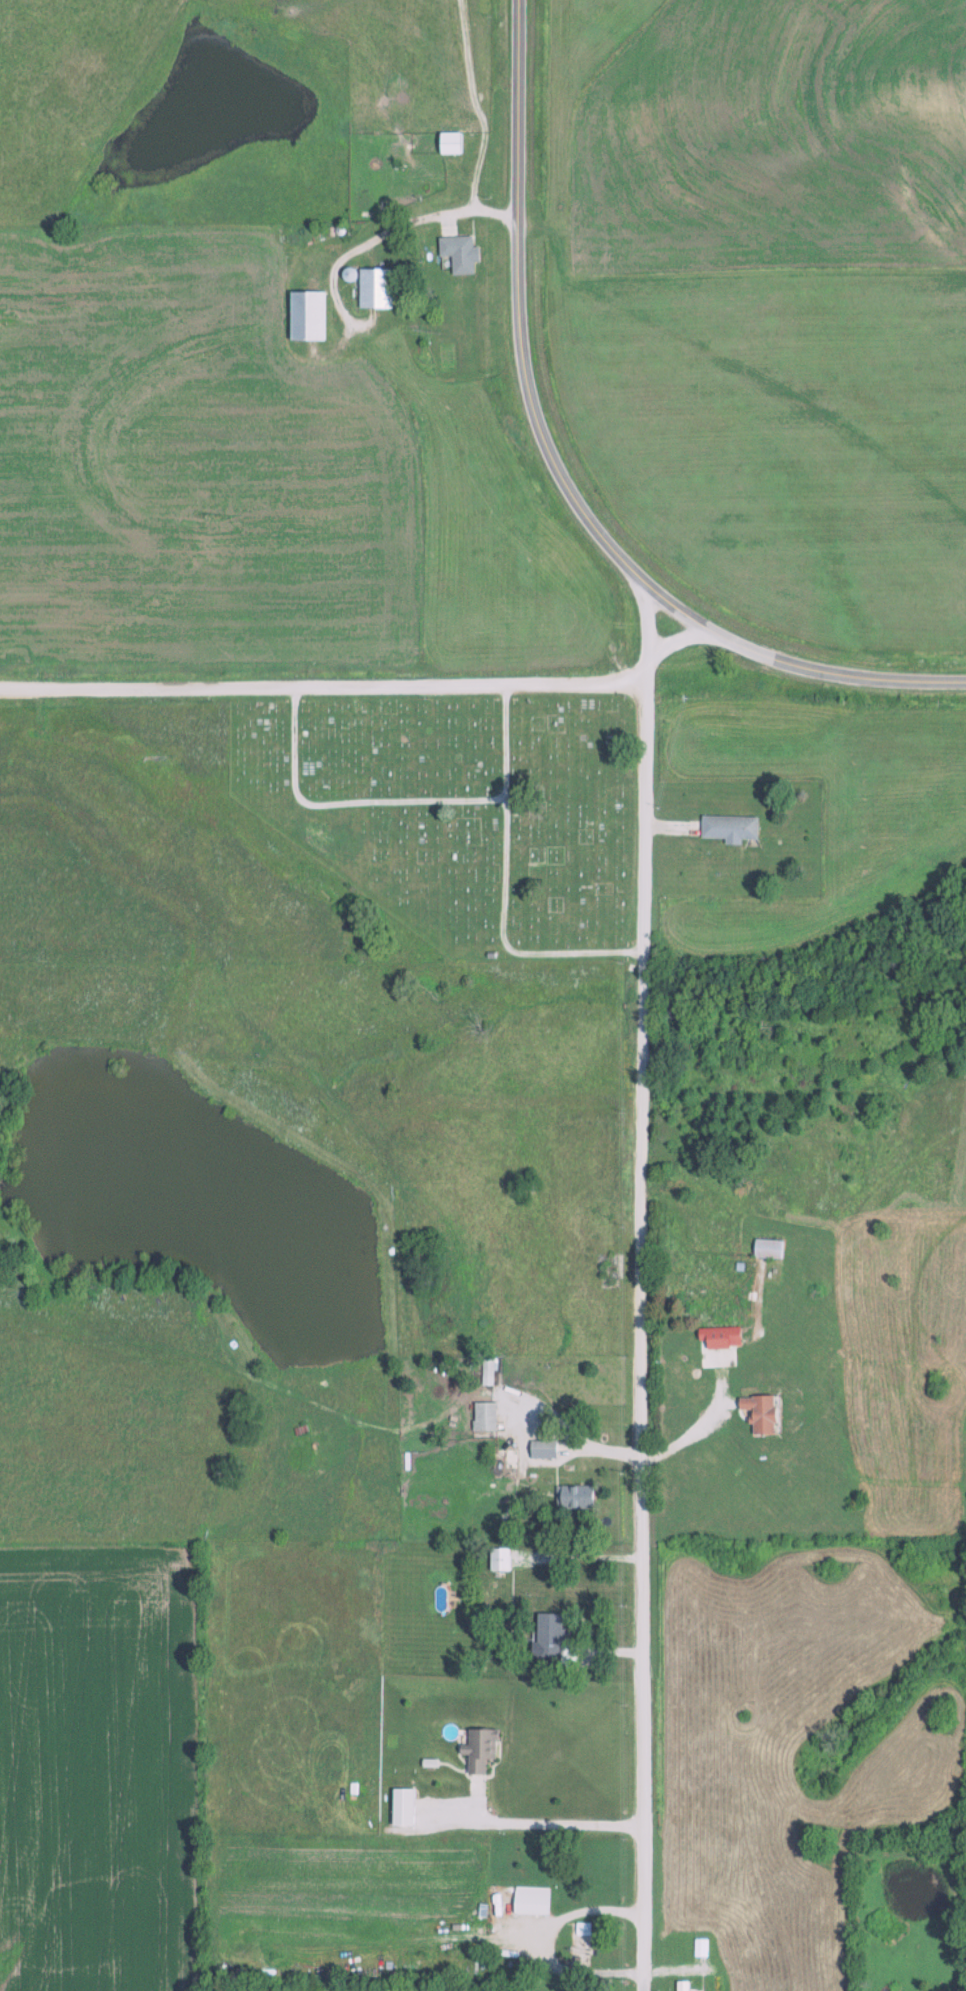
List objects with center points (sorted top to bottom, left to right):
building: (447, 142)
building: (457, 254)
building: (372, 289)
building: (303, 316)
road: (547, 442)
road: (649, 633)
road: (680, 640)
road: (930, 681)
road: (323, 685)
park: (458, 812)
building: (725, 826)
road: (641, 1122)
building: (765, 1248)
building: (717, 1337)
building: (485, 1370)
building: (755, 1413)
building: (481, 1416)
building: (540, 1449)
building: (572, 1497)
building: (496, 1559)
building: (547, 1635)
building: (477, 1749)
road: (641, 1778)
building: (400, 1807)
building: (528, 1904)
building: (587, 1955)

